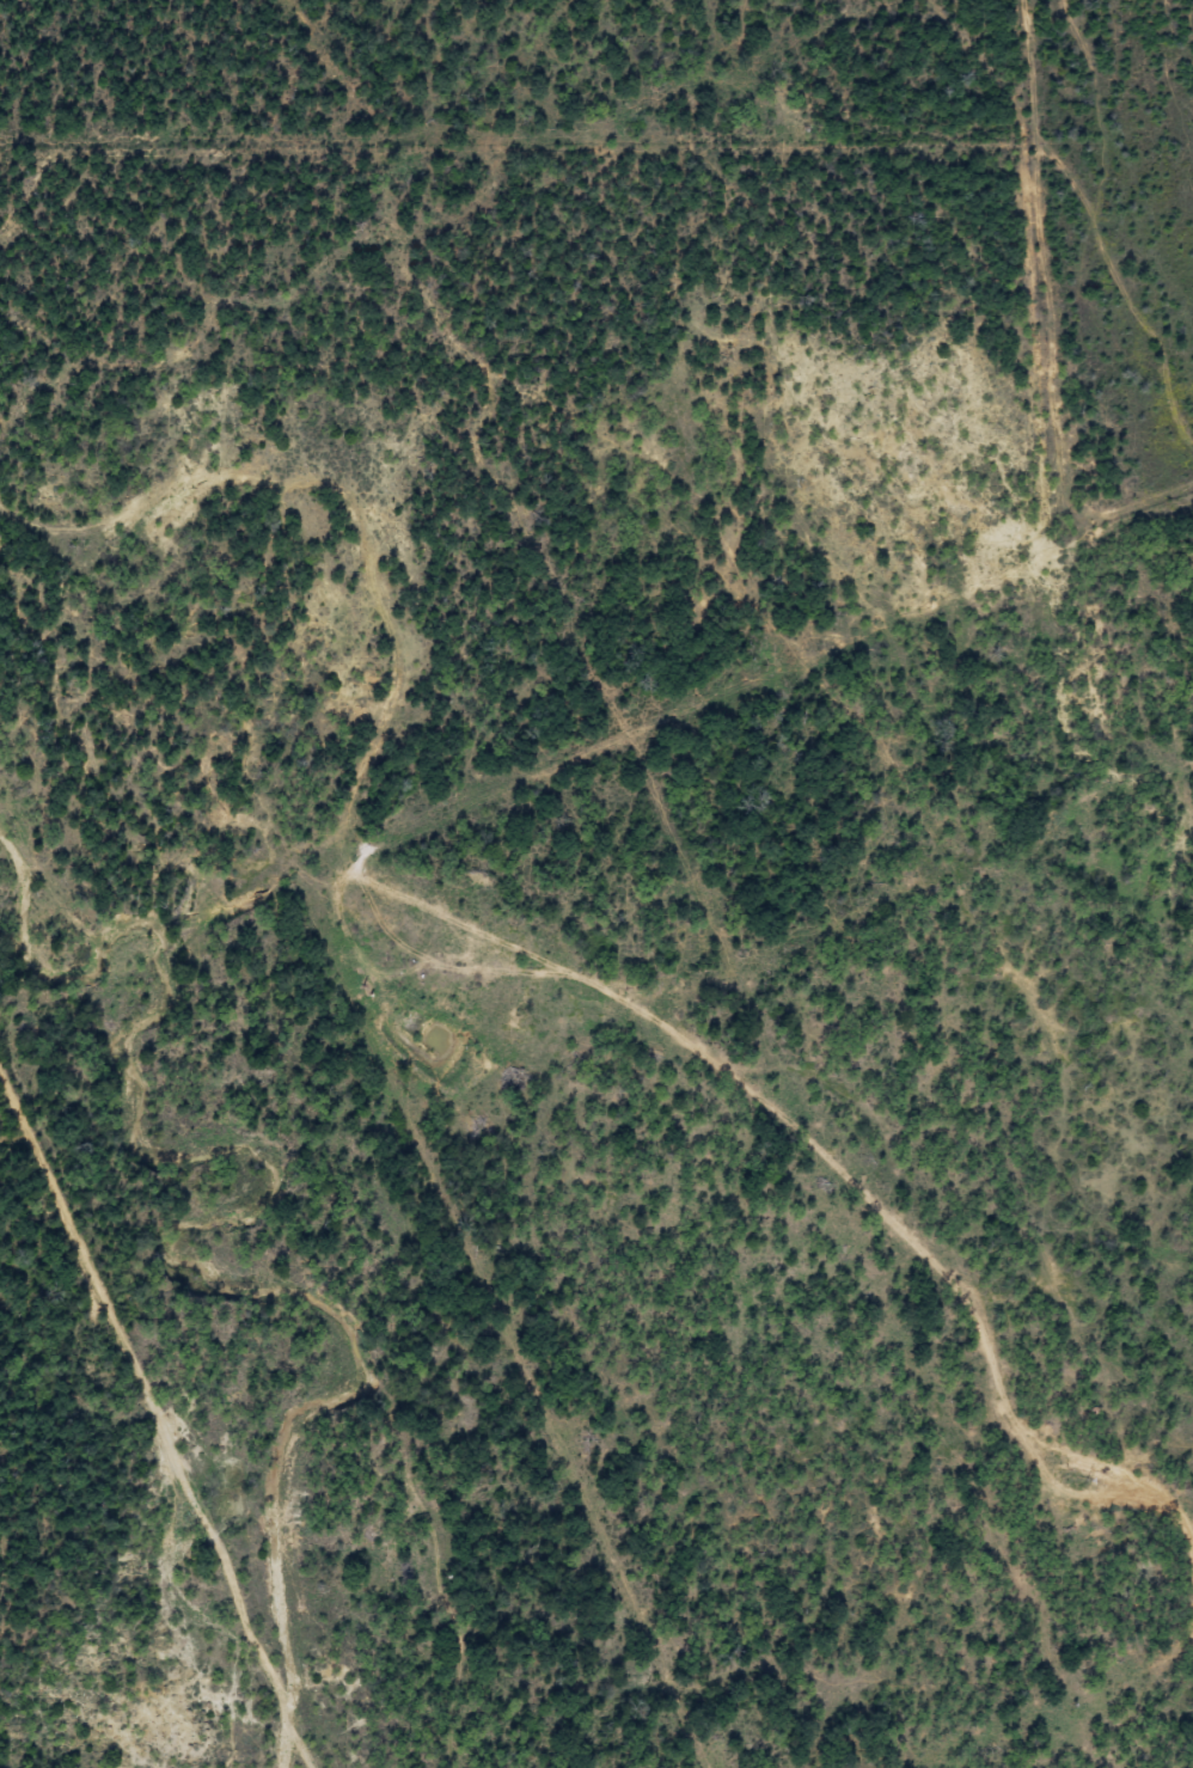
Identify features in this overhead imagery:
road: (1051, 222)

